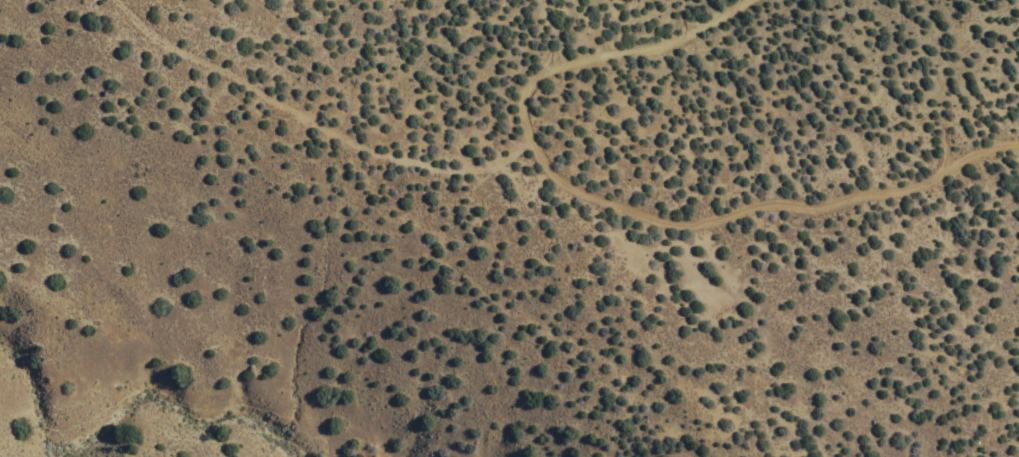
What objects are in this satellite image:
road: (447, 161)

